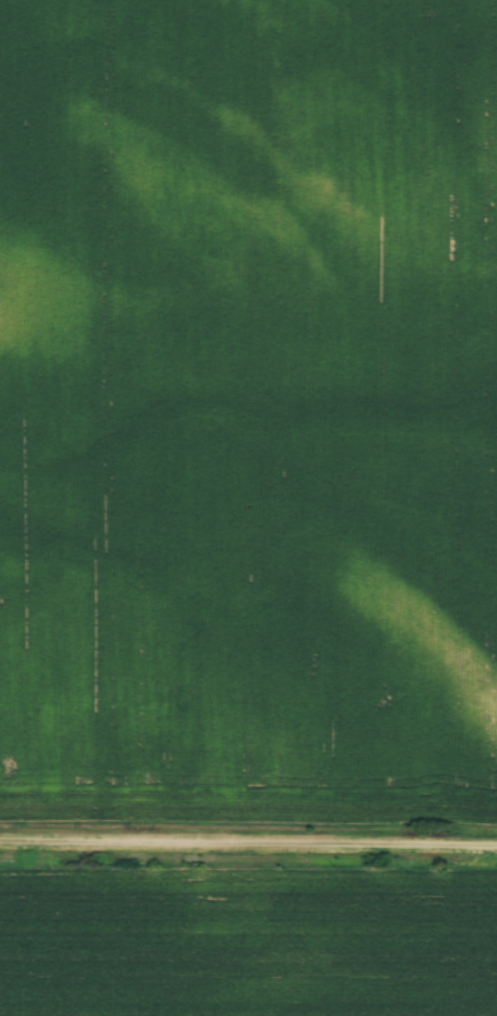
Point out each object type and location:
road: (248, 853)

